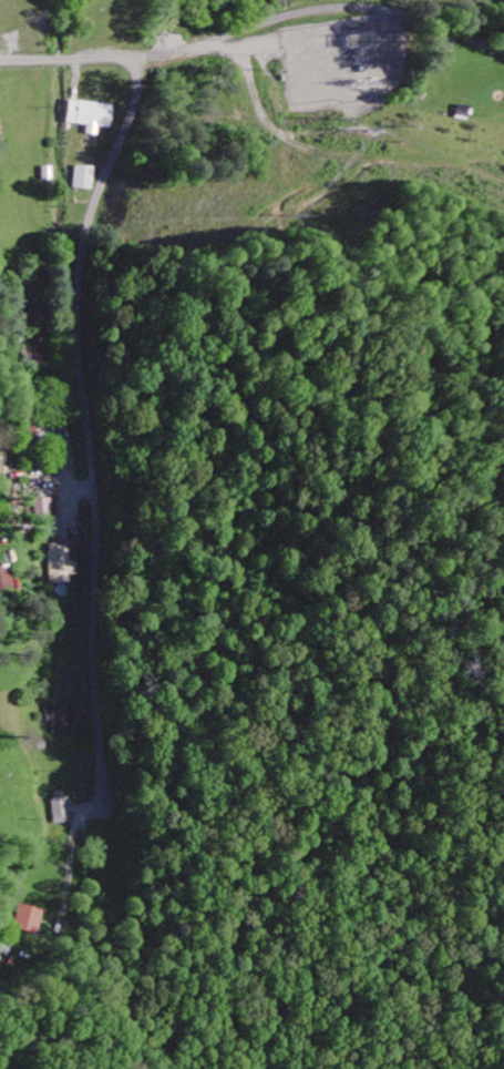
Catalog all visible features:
road: (255, 24)
building: (90, 118)
building: (47, 175)
building: (84, 180)
road: (89, 427)
building: (42, 508)
building: (60, 567)
building: (62, 721)
building: (59, 812)
building: (28, 920)

